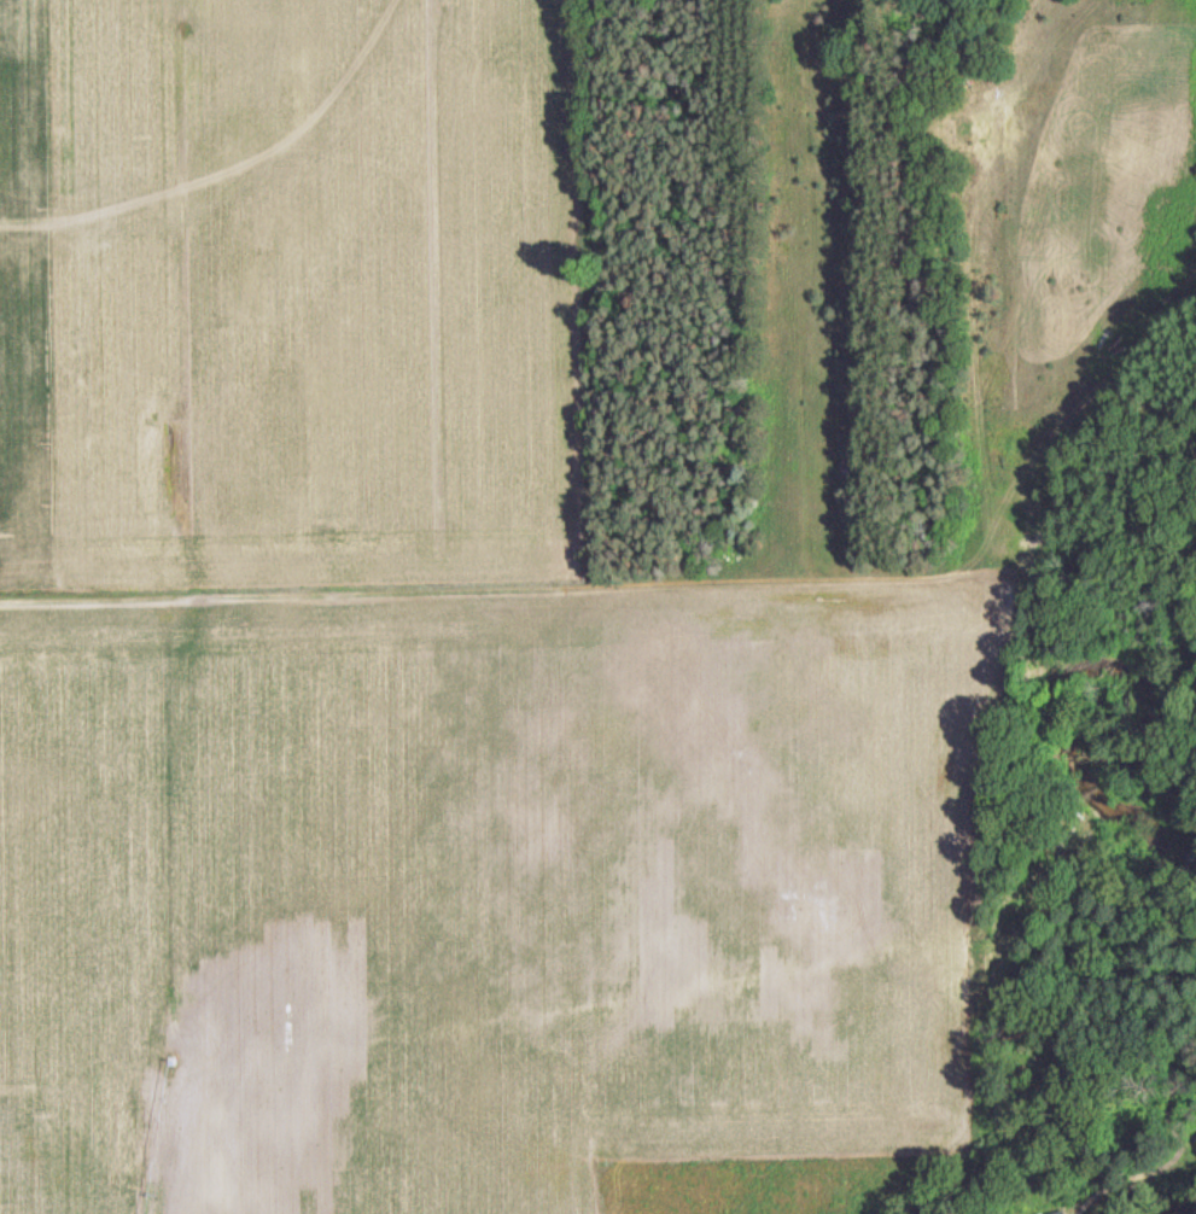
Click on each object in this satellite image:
road: (823, 1134)
building: (1057, 1212)

